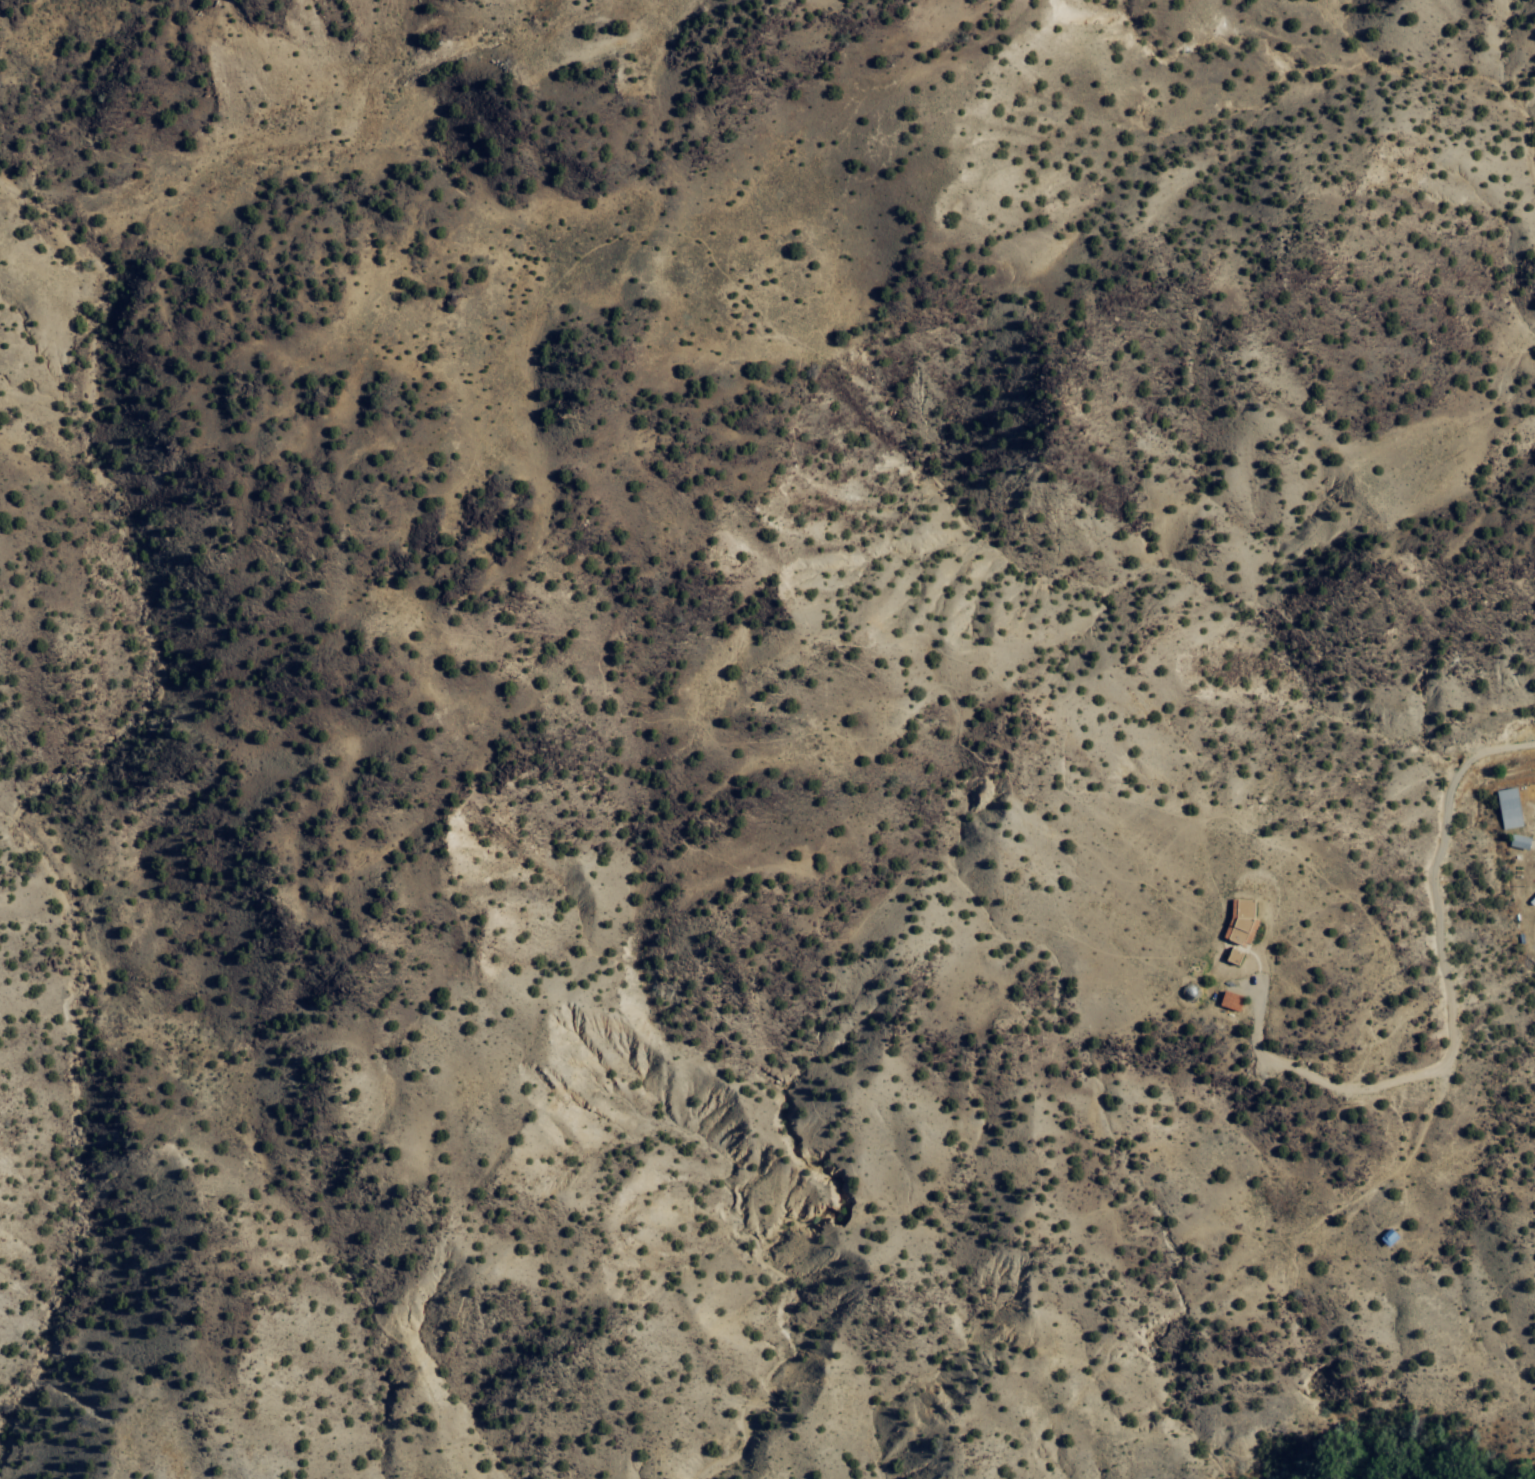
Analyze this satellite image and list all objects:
building: (1505, 807)
building: (1516, 840)
road: (405, 909)
building: (1237, 923)
building: (1230, 955)
building: (1227, 1000)

